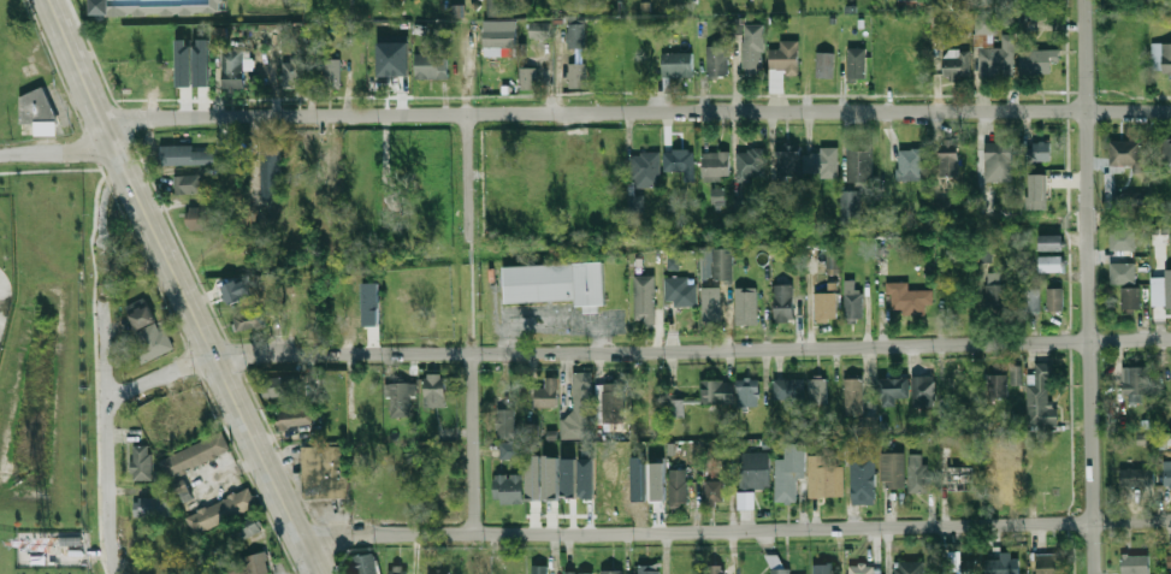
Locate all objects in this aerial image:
building: (162, 5)
building: (499, 7)
building: (984, 24)
building: (540, 29)
building: (576, 36)
building: (501, 37)
building: (752, 53)
building: (998, 57)
building: (392, 58)
building: (1161, 58)
building: (717, 60)
building: (1040, 60)
building: (201, 63)
building: (183, 64)
building: (782, 64)
building: (857, 64)
building: (678, 65)
building: (824, 65)
building: (431, 66)
building: (957, 66)
building: (233, 71)
building: (885, 72)
building: (292, 73)
building: (332, 73)
building: (576, 75)
building: (528, 78)
building: (39, 112)
road: (635, 114)
road: (469, 129)
building: (187, 149)
building: (1041, 150)
road: (57, 153)
building: (1124, 153)
building: (1166, 155)
building: (572, 156)
building: (950, 159)
building: (679, 162)
building: (821, 162)
building: (859, 162)
building: (332, 164)
building: (613, 164)
building: (788, 164)
building: (999, 164)
building: (750, 165)
building: (910, 165)
building: (715, 166)
building: (645, 170)
building: (270, 174)
building: (534, 178)
building: (188, 184)
building: (1036, 191)
building: (1048, 193)
road: (107, 195)
building: (717, 196)
building: (1134, 199)
building: (942, 205)
building: (738, 207)
building: (850, 207)
building: (203, 218)
building: (1122, 239)
road: (469, 242)
building: (1049, 242)
road: (469, 254)
building: (832, 258)
building: (673, 264)
building: (1051, 264)
building: (722, 265)
building: (1123, 273)
building: (556, 283)
road: (1087, 286)
road: (182, 288)
building: (1169, 289)
building: (680, 292)
building: (995, 292)
building: (907, 298)
building: (1130, 298)
building: (1033, 300)
building: (1055, 300)
building: (853, 302)
building: (711, 303)
building: (783, 303)
building: (237, 306)
building: (746, 306)
road: (469, 307)
building: (821, 307)
building: (644, 310)
building: (149, 330)
road: (821, 345)
road: (285, 353)
building: (1016, 375)
building: (1136, 381)
building: (998, 386)
building: (277, 390)
building: (434, 390)
building: (892, 390)
building: (789, 391)
building: (924, 391)
building: (718, 392)
building: (747, 392)
building: (817, 392)
building: (548, 393)
building: (853, 396)
building: (576, 397)
building: (1040, 397)
building: (401, 400)
building: (613, 403)
building: (676, 408)
building: (193, 412)
building: (295, 418)
building: (507, 425)
building: (869, 426)
road: (110, 434)
road: (472, 442)
building: (851, 444)
building: (136, 448)
building: (509, 450)
building: (194, 456)
road: (236, 469)
building: (892, 471)
building: (325, 472)
building: (753, 472)
building: (788, 472)
building: (918, 473)
building: (1167, 473)
building: (568, 477)
building: (863, 477)
building: (533, 478)
building: (550, 478)
building: (587, 478)
building: (1136, 478)
building: (824, 479)
building: (959, 480)
building: (657, 481)
building: (508, 487)
building: (679, 489)
building: (715, 492)
building: (745, 499)
building: (152, 507)
building: (220, 510)
building: (246, 527)
road: (737, 529)
building: (365, 563)
building: (1051, 563)
building: (1135, 563)
building: (1169, 563)
building: (958, 564)
building: (244, 566)
building: (777, 566)
building: (909, 567)
building: (1003, 567)
building: (824, 568)
building: (397, 569)
building: (539, 569)
building: (647, 569)
building: (715, 569)
building: (860, 569)
building: (437, 572)
building: (580, 572)
building: (611, 572)

